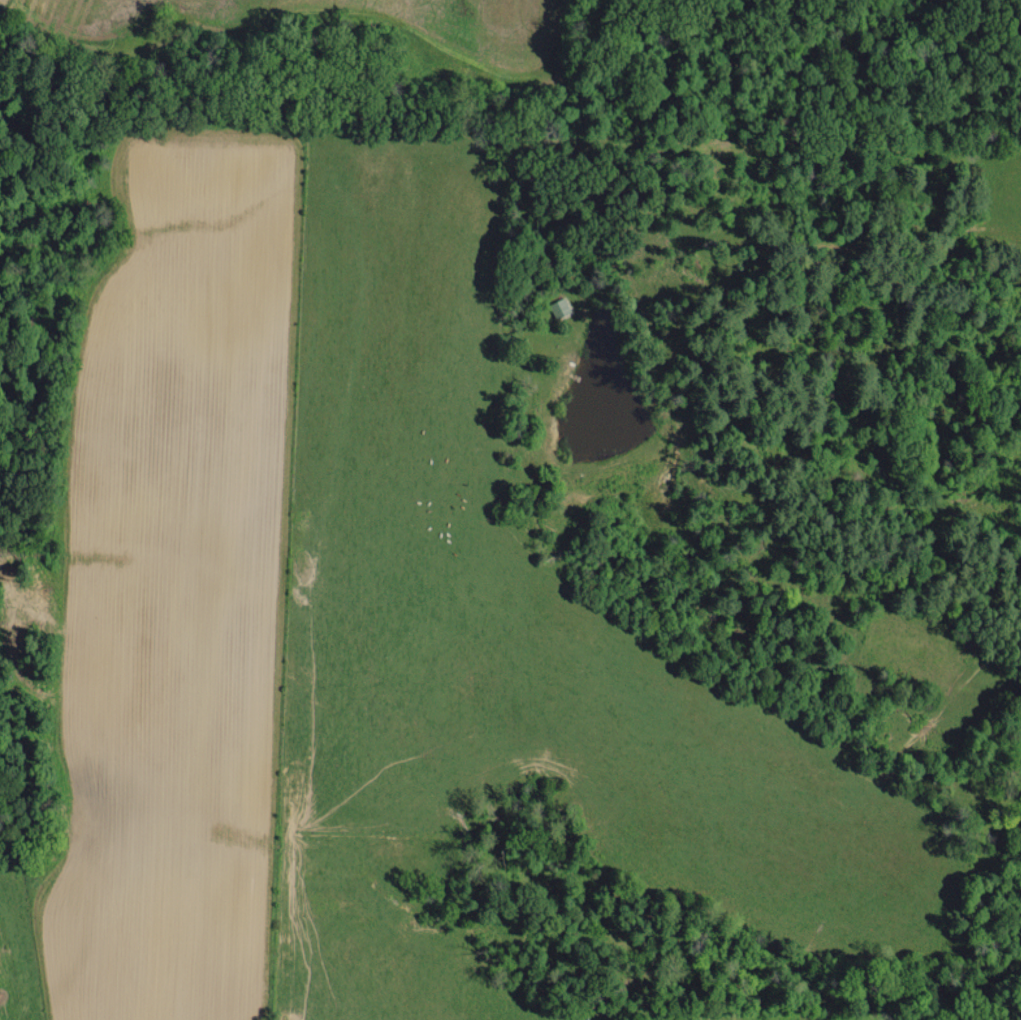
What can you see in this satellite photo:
building: (560, 307)

